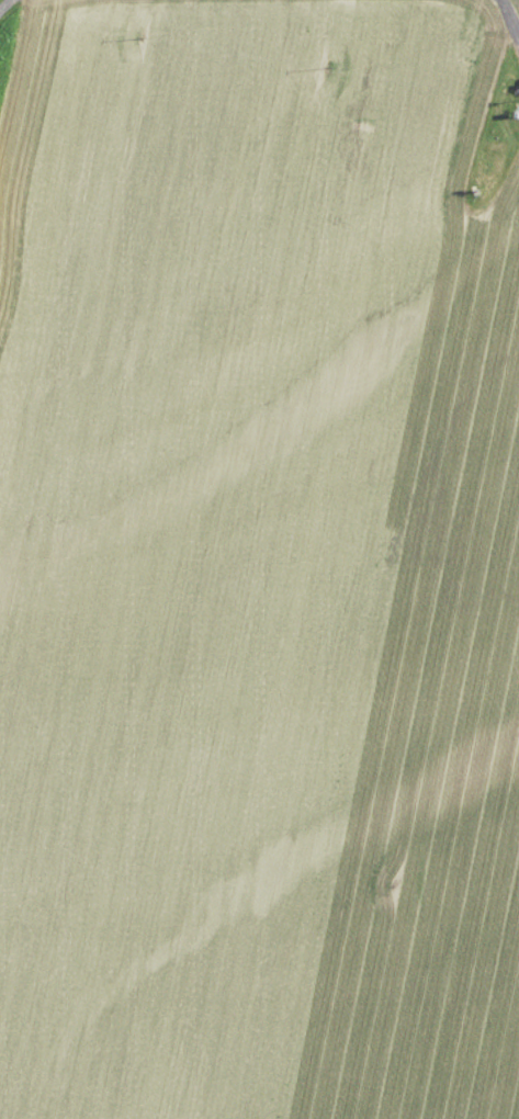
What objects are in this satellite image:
road: (4, 5)
road: (509, 20)

